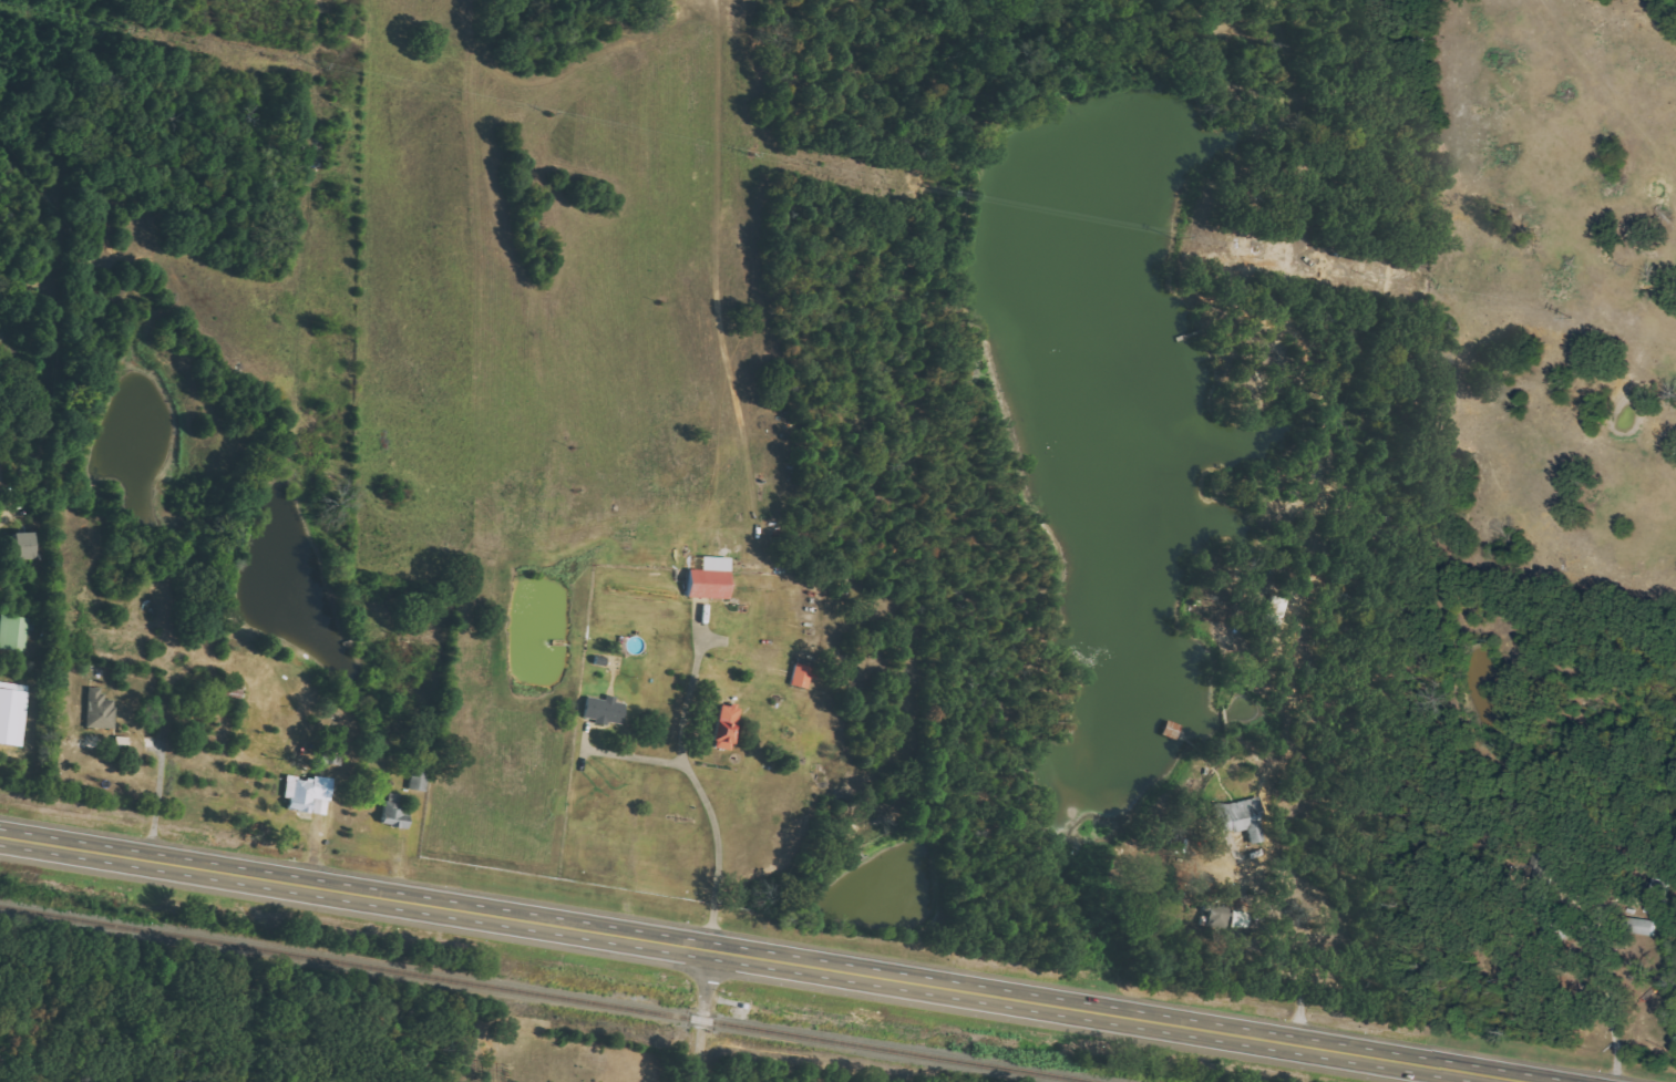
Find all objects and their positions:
building: (19, 545)
building: (708, 584)
building: (1276, 610)
building: (13, 631)
building: (801, 676)
road: (691, 698)
building: (101, 710)
building: (604, 710)
building: (12, 713)
building: (727, 727)
building: (420, 780)
building: (308, 794)
road: (155, 801)
road: (708, 810)
building: (395, 812)
building: (1241, 817)
building: (1659, 897)
building: (1240, 919)
road: (783, 951)
railway: (548, 995)
road: (703, 1010)
road: (1613, 1010)

